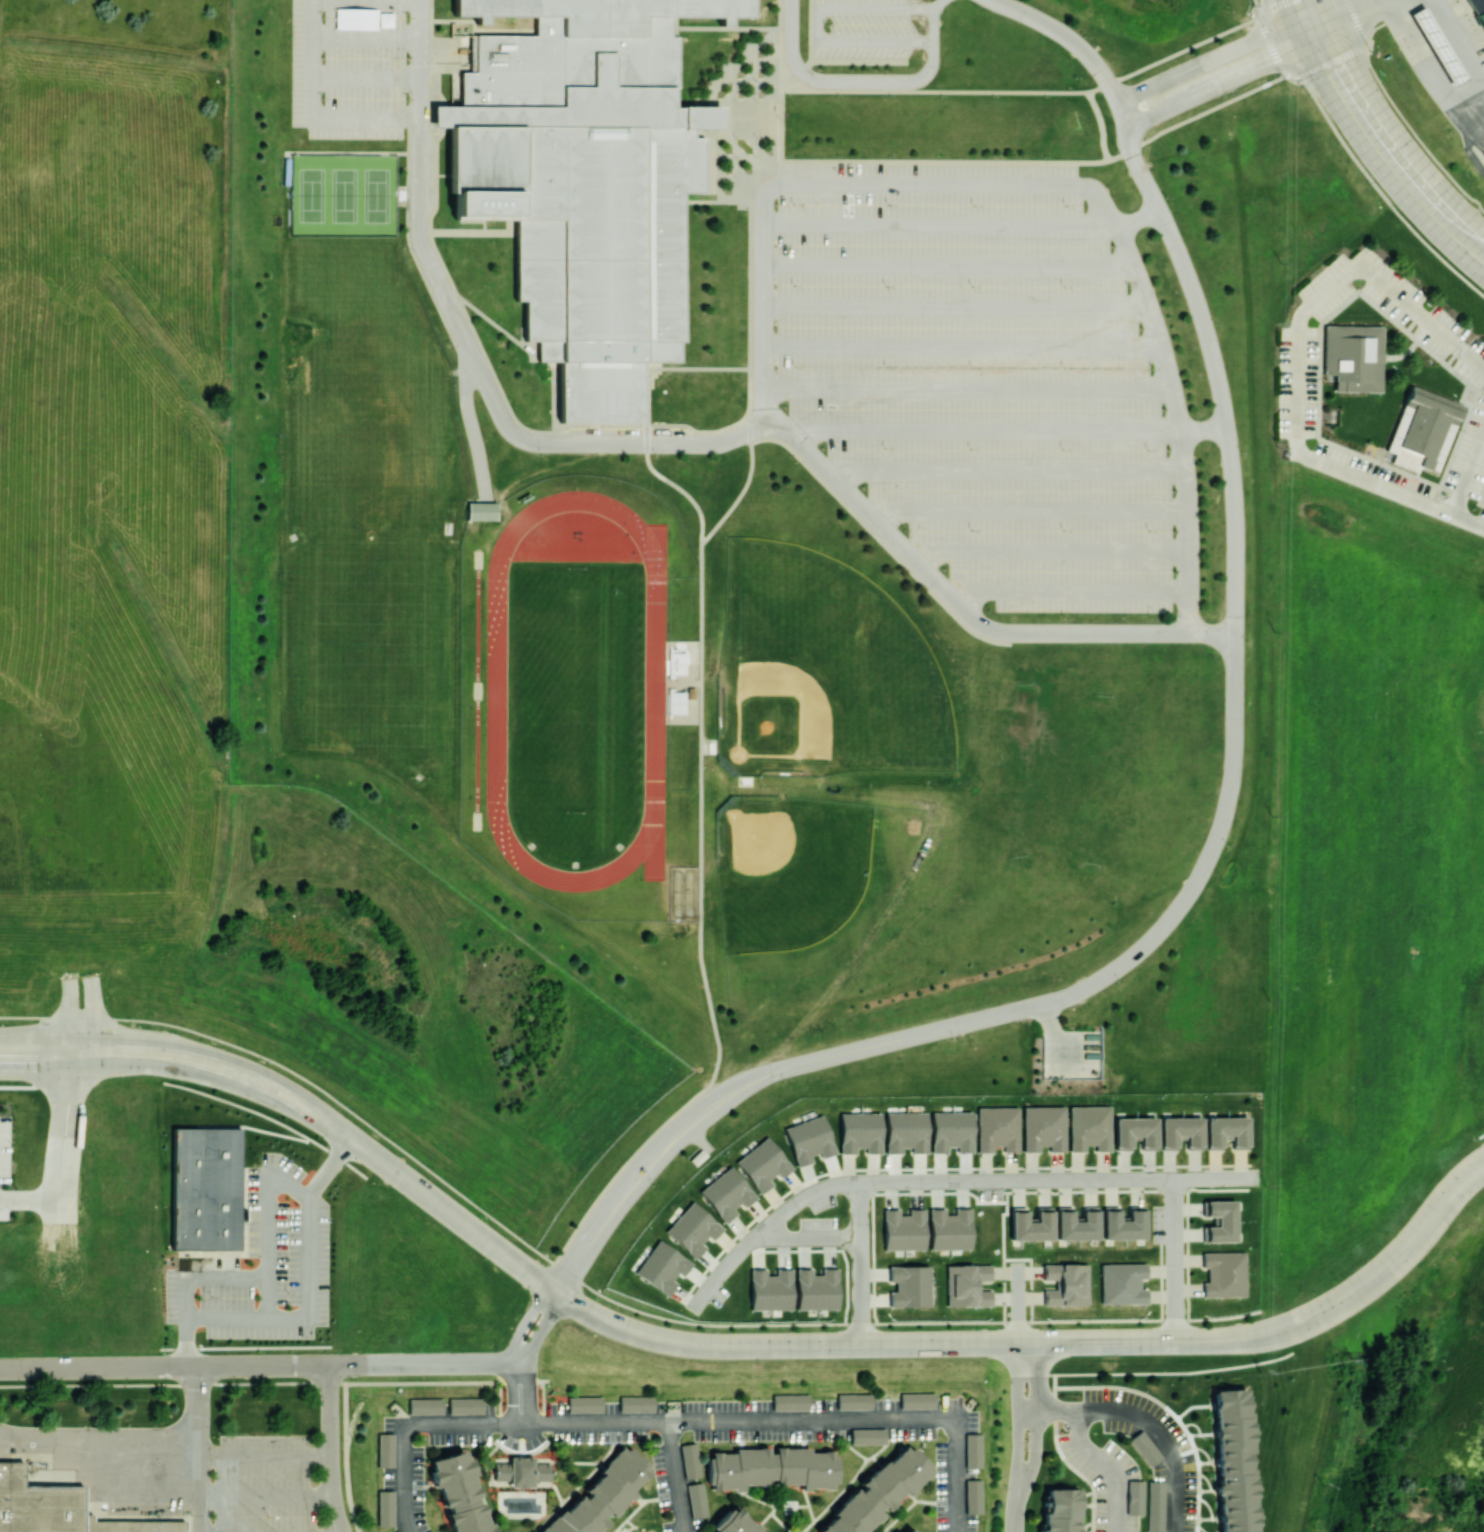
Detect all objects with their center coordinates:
road: (1387, 0)
road: (939, 4)
street lamp: (1252, 6)
building: (1478, 9)
road: (1287, 12)
road: (1327, 12)
road: (1361, 12)
road: (816, 24)
traffic signals: (1293, 24)
road: (1313, 24)
traffic signals: (1333, 25)
parking lot: (861, 31)
road: (1298, 34)
road: (1461, 34)
road: (1318, 35)
street lamp: (1085, 37)
road: (1075, 45)
building: (1437, 46)
gas station: (1440, 46)
street lamp: (1393, 49)
road: (1225, 54)
traffic signals: (1269, 62)
road: (1429, 68)
parking lot: (348, 69)
road: (1247, 71)
street lamp: (1076, 79)
road: (859, 81)
street lamp: (1299, 88)
road: (1135, 93)
street lamp: (1101, 96)
street lamp: (1145, 107)
road: (1159, 112)
road: (1398, 135)
building: (1483, 159)
road: (1380, 171)
building: (589, 182)
street lamp: (1368, 183)
road: (834, 185)
park: (344, 195)
street lamp: (1168, 199)
road: (1137, 219)
park: (343, 272)
street lamp: (1217, 324)
road: (1298, 352)
building: (1355, 358)
parking lot: (972, 374)
park: (368, 423)
road: (471, 426)
road: (982, 426)
road: (1180, 426)
road: (1203, 426)
building: (1425, 431)
road: (686, 445)
road: (1020, 471)
road: (1469, 477)
building: (476, 511)
road: (1469, 521)
park: (369, 647)
building: (675, 661)
park: (818, 672)
track: (654, 688)
park: (574, 691)
building: (689, 693)
building: (677, 702)
road: (1231, 765)
park: (1079, 777)
park: (785, 869)
street lamp: (1121, 983)
road: (94, 1007)
road: (71, 1009)
street lamp: (133, 1025)
street lamp: (1081, 1028)
road: (82, 1037)
street lamp: (955, 1041)
street lamp: (263, 1062)
road: (109, 1069)
road: (31, 1071)
road: (268, 1073)
street lamp: (786, 1082)
road: (31, 1086)
road: (256, 1097)
road: (76, 1118)
road: (269, 1118)
road: (58, 1119)
building: (1088, 1127)
road: (252, 1128)
building: (1043, 1128)
building: (997, 1129)
building: (951, 1131)
building: (1226, 1131)
building: (859, 1132)
building: (906, 1132)
building: (1180, 1132)
building: (1135, 1133)
street lamp: (377, 1138)
road: (698, 1138)
building: (808, 1140)
street lamp: (13, 1148)
parking lot: (5, 1151)
road: (370, 1153)
building: (693, 1159)
building: (762, 1164)
road: (1059, 1181)
road: (628, 1184)
street lamp: (654, 1186)
building: (205, 1189)
street lamp: (1056, 1192)
building: (726, 1193)
street lamp: (974, 1193)
street lamp: (1192, 1193)
street lamp: (846, 1200)
road: (30, 1201)
parking lot: (4, 1210)
road: (60, 1211)
street lamp: (13, 1213)
street lamp: (484, 1218)
building: (1220, 1221)
building: (1123, 1223)
building: (1077, 1224)
building: (1031, 1225)
road: (765, 1227)
building: (692, 1229)
building: (949, 1229)
building: (903, 1230)
street lamp: (1451, 1230)
road: (807, 1239)
road: (265, 1255)
street lamp: (846, 1256)
road: (1399, 1256)
road: (1176, 1260)
road: (860, 1264)
building: (661, 1267)
building: (1223, 1274)
street lamp: (1337, 1281)
building: (1122, 1283)
building: (1065, 1284)
building: (967, 1285)
building: (909, 1286)
building: (816, 1289)
road: (593, 1290)
building: (770, 1290)
street lamp: (590, 1295)
road: (265, 1297)
road: (1018, 1304)
road: (301, 1313)
street lamp: (1193, 1317)
street lamp: (1035, 1319)
road: (523, 1322)
street lamp: (1220, 1324)
street lamp: (1092, 1326)
road: (540, 1328)
street lamp: (963, 1328)
street lamp: (710, 1329)
street lamp: (837, 1329)
road: (1277, 1330)
road: (676, 1342)
road: (1139, 1342)
road: (244, 1347)
power tower: (1353, 1360)
road: (450, 1363)
road: (350, 1365)
road: (164, 1366)
road: (1166, 1373)
power tower: (1260, 1378)
street lamp: (238, 1380)
street lamp: (352, 1380)
street lamp: (130, 1382)
road: (273, 1382)
street lamp: (23, 1383)
road: (510, 1394)
road: (529, 1394)
street lamp: (1027, 1397)
building: (916, 1399)
building: (853, 1400)
building: (789, 1401)
building: (585, 1404)
building: (637, 1404)
building: (426, 1406)
building: (466, 1406)
road: (1048, 1410)
road: (199, 1411)
road: (680, 1422)
road: (1018, 1428)
road: (1037, 1430)
building: (868, 1435)
road: (1163, 1438)
street lamp: (1027, 1446)
building: (1145, 1446)
building: (973, 1448)
road: (328, 1449)
building: (386, 1450)
road: (98, 1453)
road: (264, 1456)
building: (689, 1458)
building: (1233, 1461)
road: (1107, 1465)
building: (771, 1468)
building: (517, 1471)
road: (957, 1475)
road: (675, 1477)
road: (402, 1478)
street lamp: (1007, 1488)
building: (877, 1492)
building: (459, 1493)
road: (199, 1494)
building: (600, 1495)
building: (973, 1495)
road: (266, 1496)
building: (1134, 1496)
building: (695, 1498)
building: (38, 1505)
building: (1155, 1506)
building: (387, 1509)
building: (1060, 1510)
building: (734, 1522)
road: (1014, 1523)
building: (134, 1527)
building: (911, 1530)

